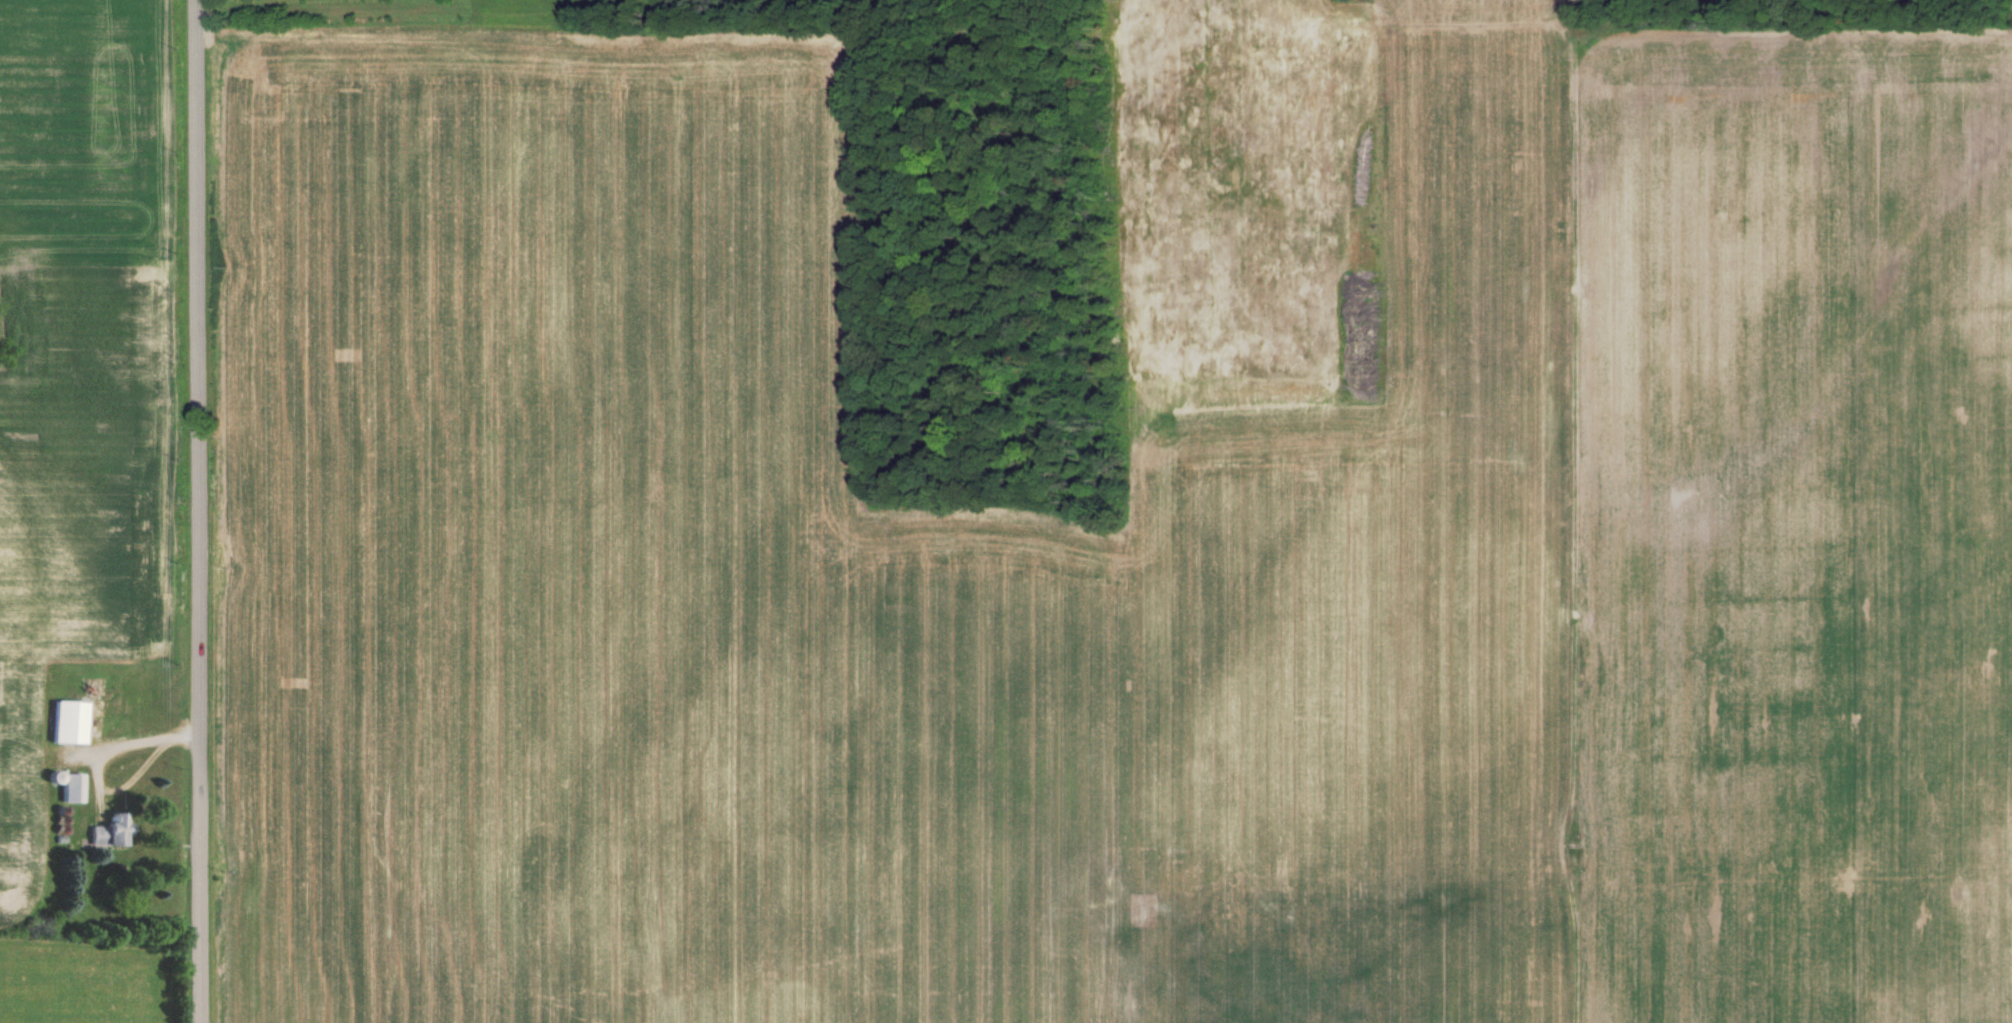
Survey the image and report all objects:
road: (195, 511)
building: (67, 722)
building: (70, 788)
building: (109, 832)

